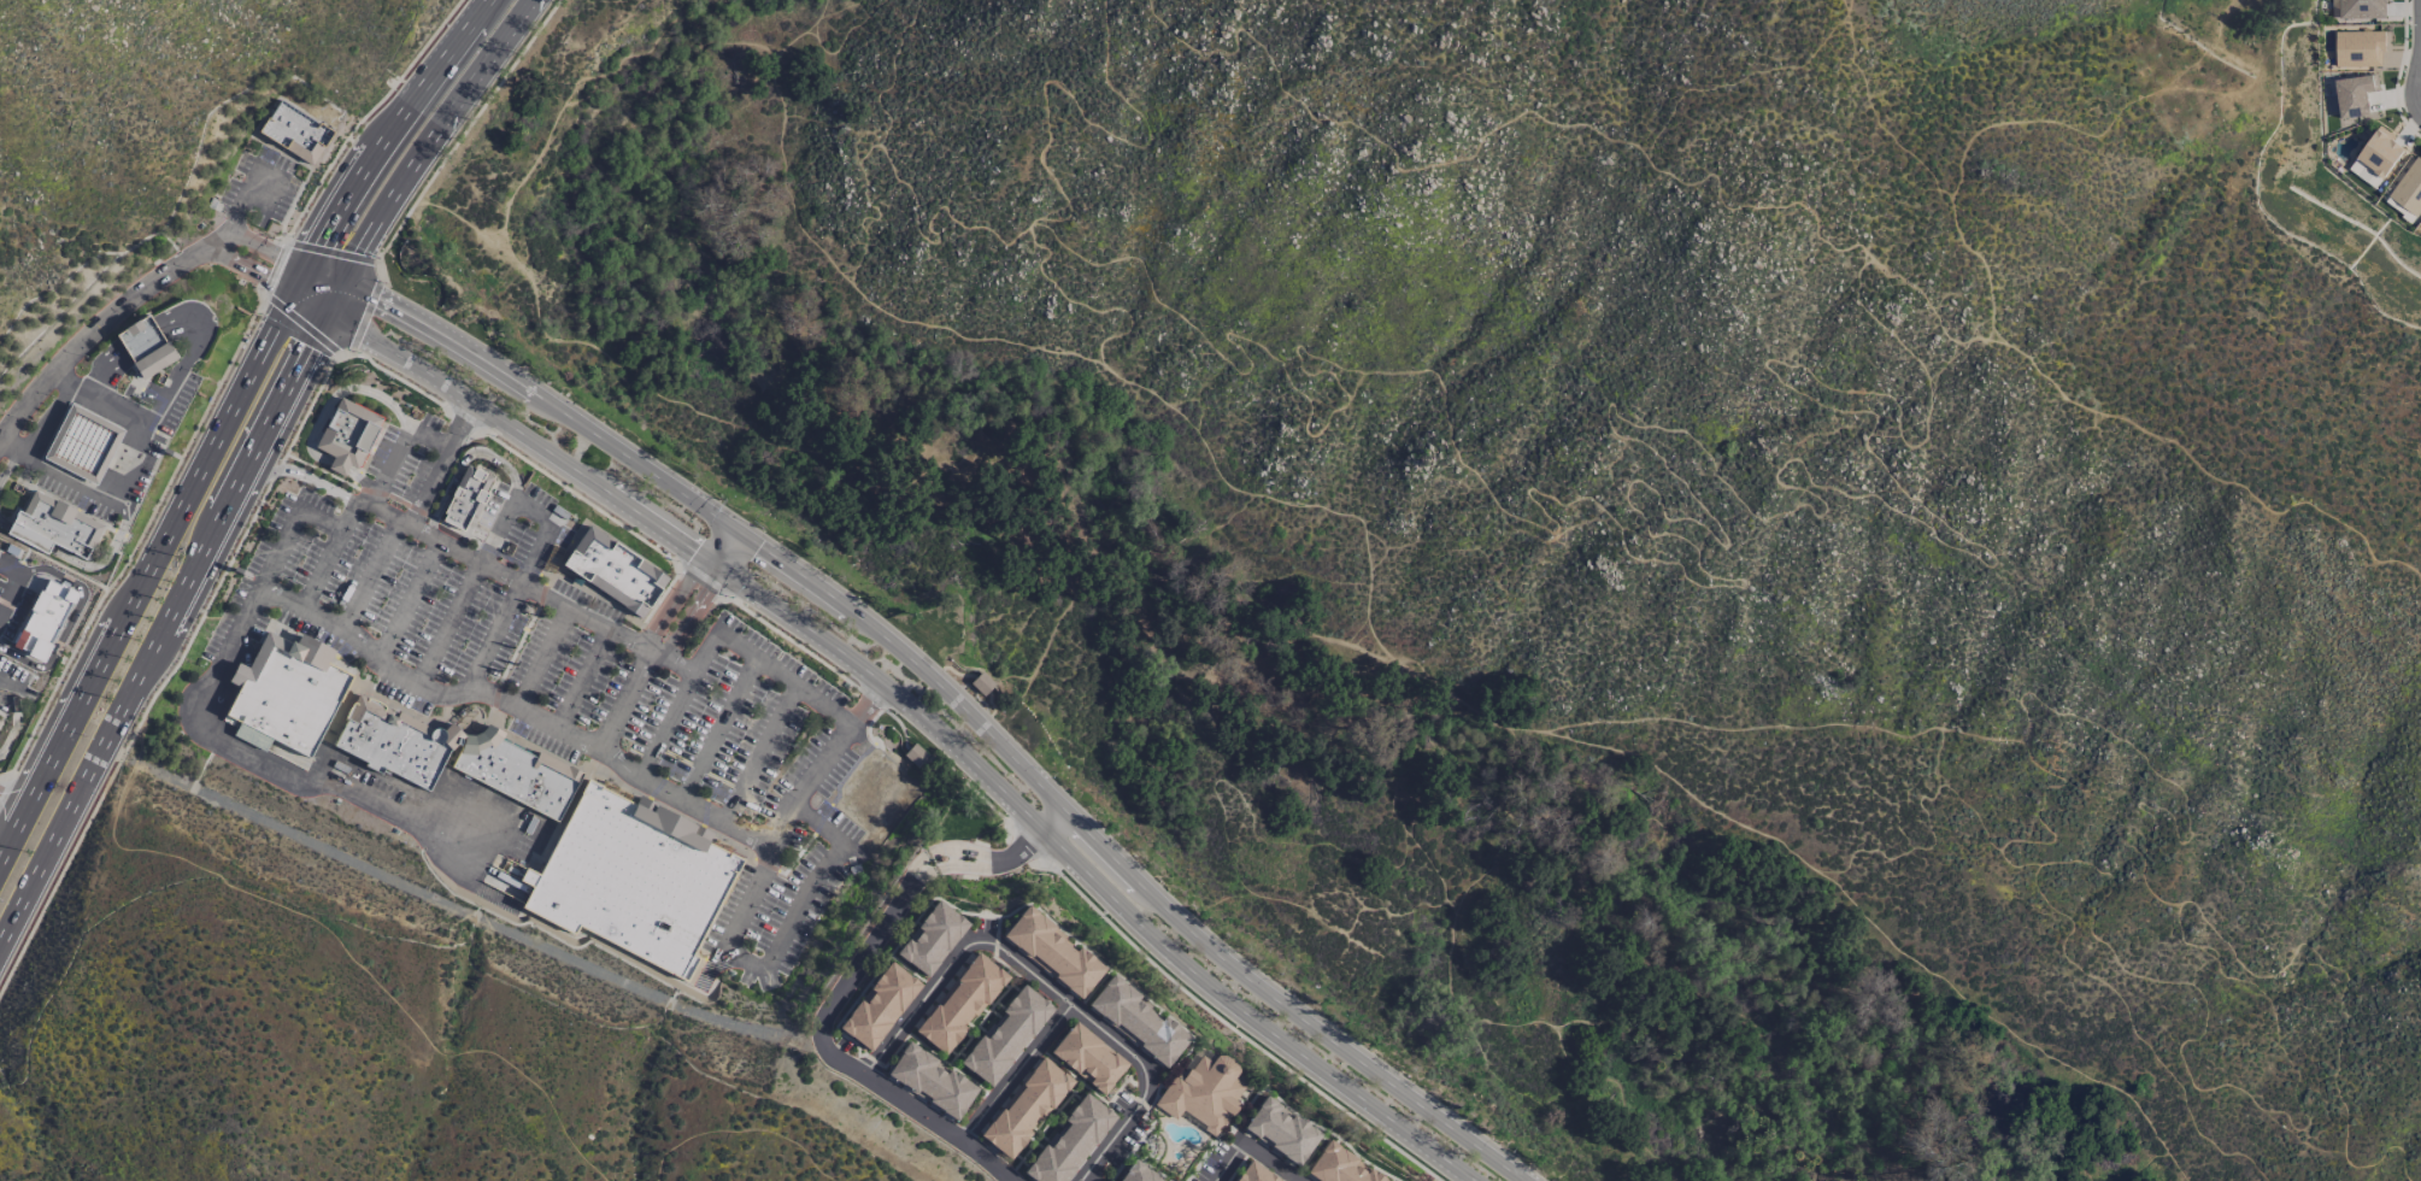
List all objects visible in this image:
building: (2358, 8)
road: (1845, 12)
road: (830, 45)
building: (2357, 48)
road: (604, 76)
building: (2354, 94)
road: (365, 114)
road: (1082, 123)
road: (2097, 134)
building: (294, 135)
road: (427, 135)
road: (459, 135)
road: (1367, 136)
road: (1657, 171)
road: (1933, 178)
building: (2409, 187)
road: (865, 199)
road: (242, 205)
road: (264, 247)
road: (330, 249)
traffic signals: (306, 264)
road: (271, 268)
road: (252, 272)
traffic signals: (339, 281)
traffic signals: (294, 292)
road: (1075, 306)
traffic signals: (324, 311)
road: (360, 313)
road: (298, 324)
road: (98, 325)
building: (145, 347)
road: (394, 377)
road: (1847, 393)
road: (98, 398)
road: (310, 404)
road: (319, 416)
road: (1446, 417)
road: (51, 419)
road: (229, 419)
road: (1622, 419)
road: (464, 421)
road: (458, 422)
building: (345, 435)
road: (429, 436)
building: (83, 443)
road: (13, 446)
road: (465, 458)
road: (8, 464)
road: (388, 466)
road: (276, 470)
road: (292, 470)
gas station: (80, 471)
road: (429, 486)
road: (577, 497)
building: (465, 498)
road: (927, 504)
road: (529, 513)
road: (321, 516)
building: (53, 527)
traffic signals: (729, 528)
road: (137, 536)
traffic signals: (747, 541)
road: (113, 545)
road: (328, 553)
traffic signals: (706, 558)
fountain: (552, 559)
traffic signals: (724, 571)
building: (613, 572)
road: (368, 574)
road: (504, 576)
road: (699, 580)
road: (686, 586)
road: (259, 587)
road: (71, 588)
road: (464, 593)
road: (409, 598)
road: (704, 598)
building: (39, 604)
road: (168, 609)
road: (506, 610)
road: (1361, 616)
road: (196, 624)
road: (792, 644)
road: (30, 653)
road: (541, 659)
parking lot: (568, 676)
road: (783, 676)
road: (584, 678)
building: (980, 683)
road: (8, 687)
road: (940, 687)
building: (287, 692)
road: (628, 699)
road: (871, 700)
road: (676, 703)
road: (866, 703)
road: (907, 705)
road: (516, 707)
road: (16, 725)
fountain: (474, 725)
road: (719, 729)
road: (2021, 735)
building: (393, 741)
road: (760, 754)
building: (912, 754)
building: (295, 758)
road: (946, 759)
building: (515, 771)
road: (5, 782)
road: (307, 782)
road: (12, 800)
road: (819, 825)
road: (778, 830)
road: (1024, 845)
building: (941, 858)
road: (1006, 862)
road: (1436, 871)
road: (58, 877)
building: (630, 877)
park: (965, 906)
road: (789, 921)
building: (930, 939)
building: (1050, 952)
road: (351, 959)
road: (1045, 985)
building: (958, 1004)
building: (877, 1006)
building: (1135, 1021)
road: (1234, 1029)
building: (1004, 1034)
road: (1722, 1035)
road: (825, 1051)
building: (1087, 1057)
road: (1016, 1071)
building: (929, 1080)
building: (1201, 1093)
road: (2257, 1101)
building: (1023, 1107)
road: (1630, 1123)
road: (739, 1129)
building: (1279, 1130)
building: (1069, 1141)
park: (1139, 1151)
road: (1226, 1162)
road: (1264, 1162)
building: (1338, 1167)
park: (1159, 1169)
road: (2068, 1169)
building: (1136, 1174)
building: (1253, 1174)

